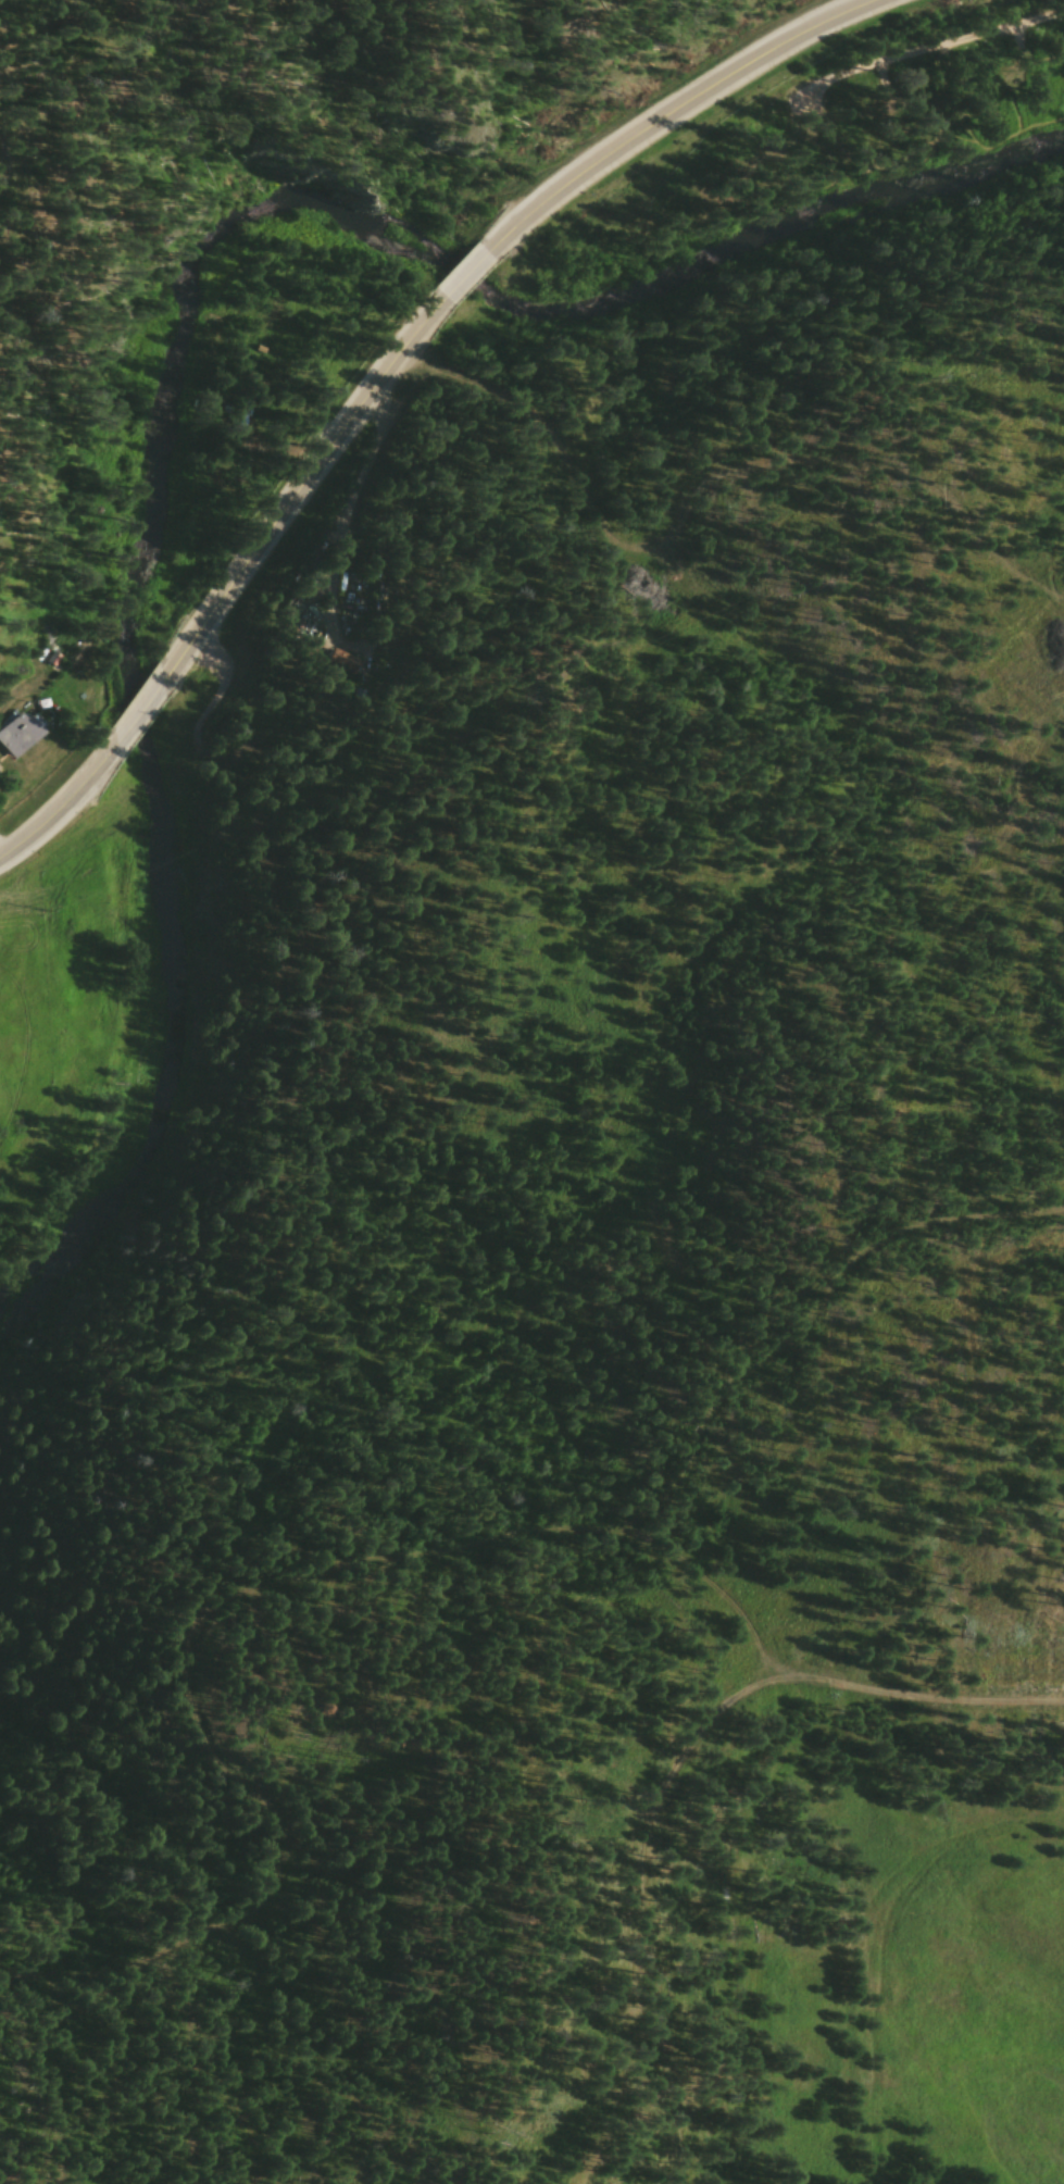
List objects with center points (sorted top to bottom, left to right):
road: (930, 58)
road: (713, 97)
road: (487, 265)
road: (341, 528)
road: (226, 598)
building: (336, 663)
building: (18, 744)
road: (676, 1769)
road: (416, 1939)

